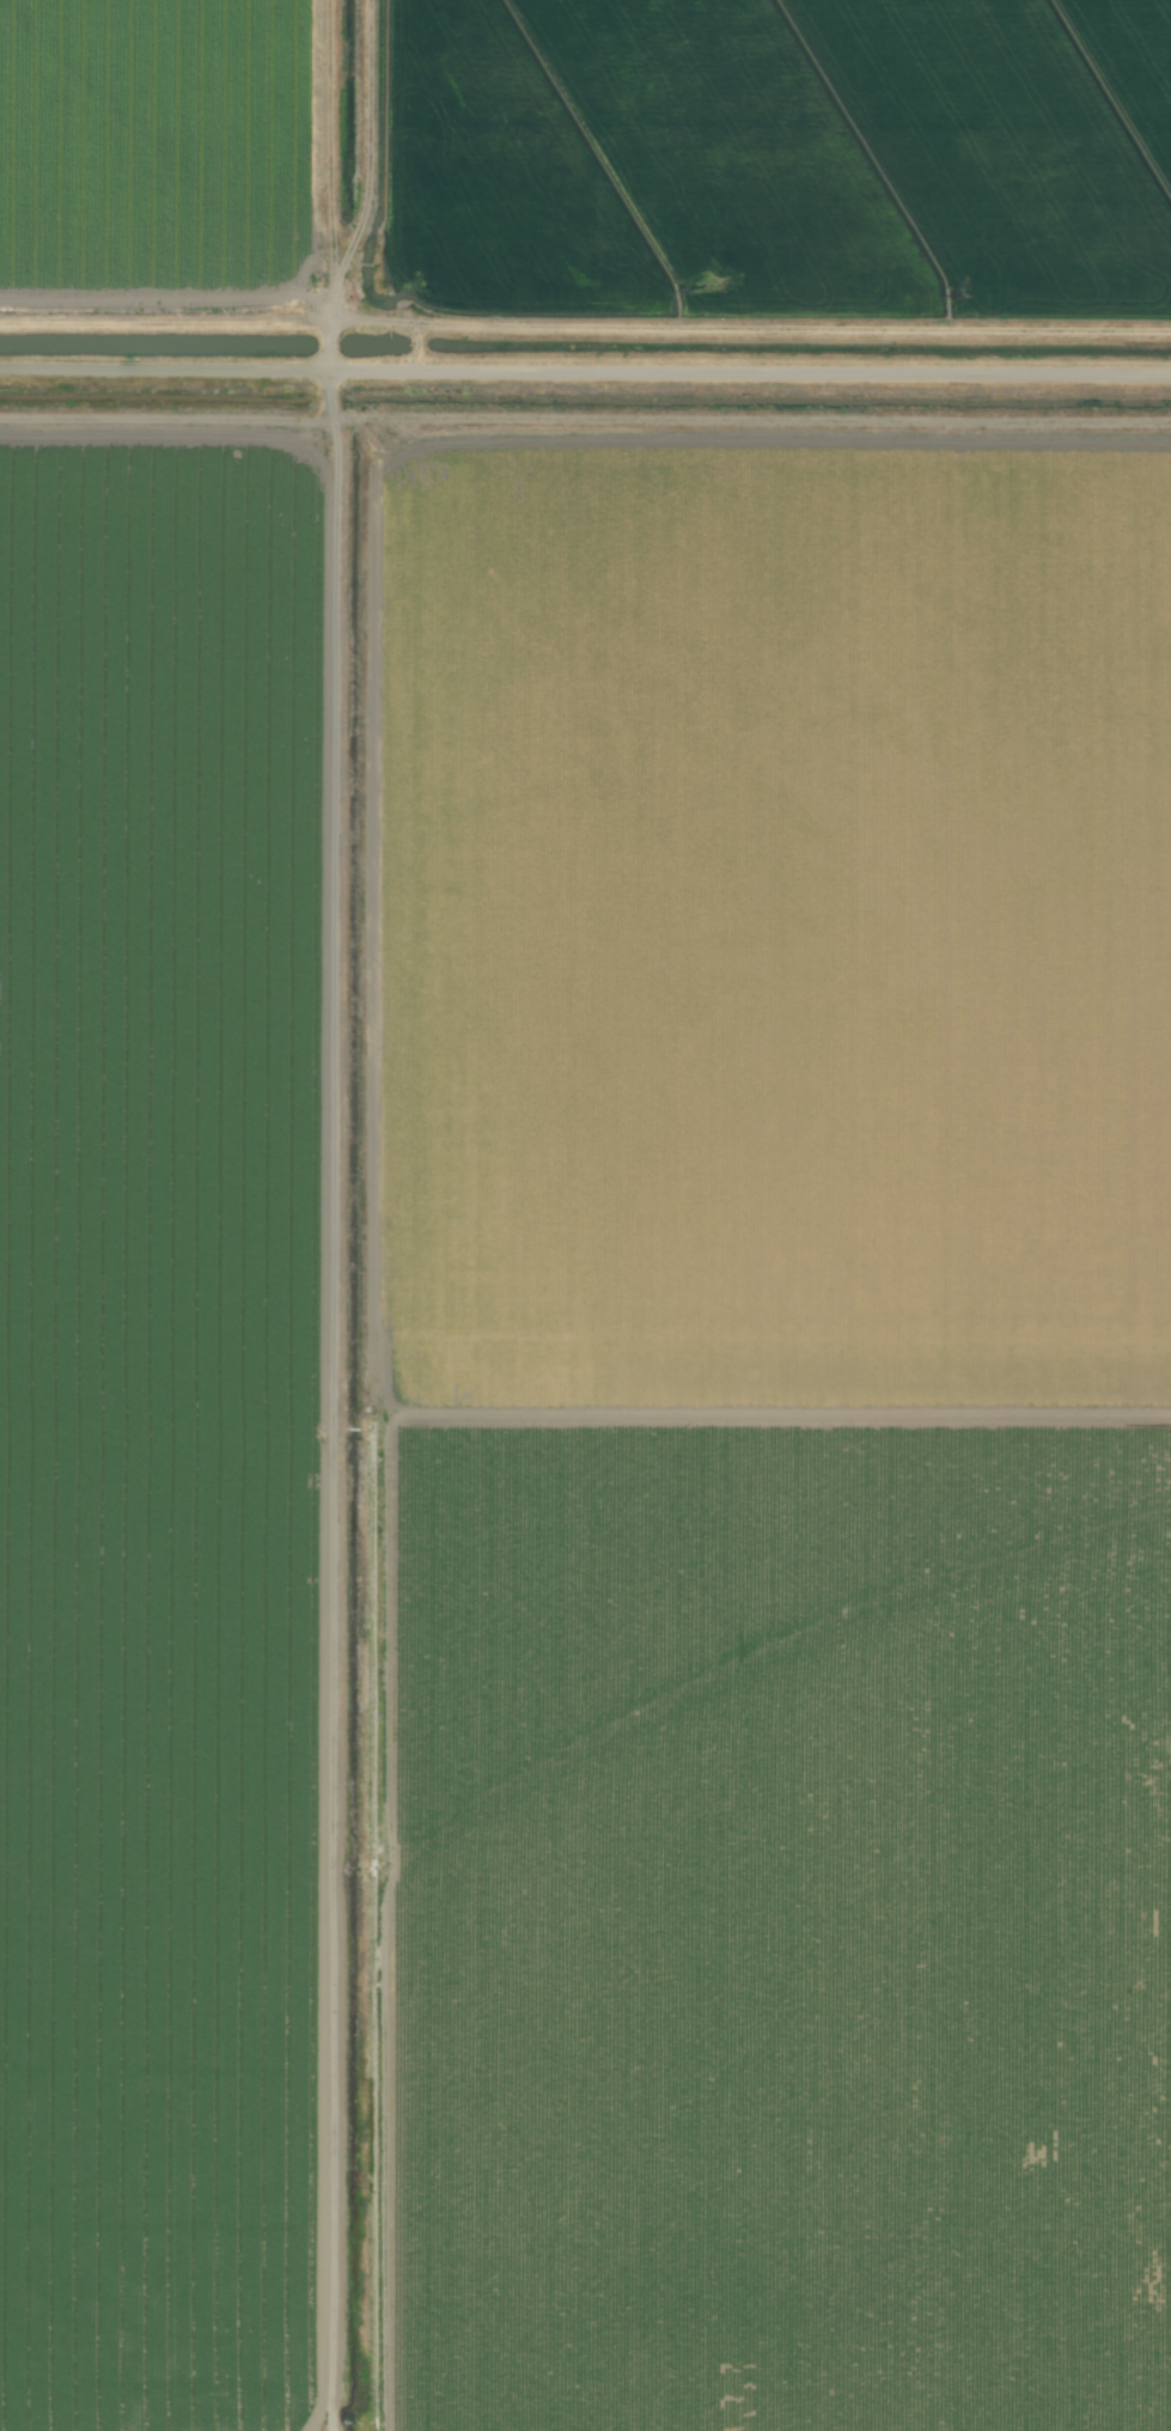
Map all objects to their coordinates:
road: (585, 385)

